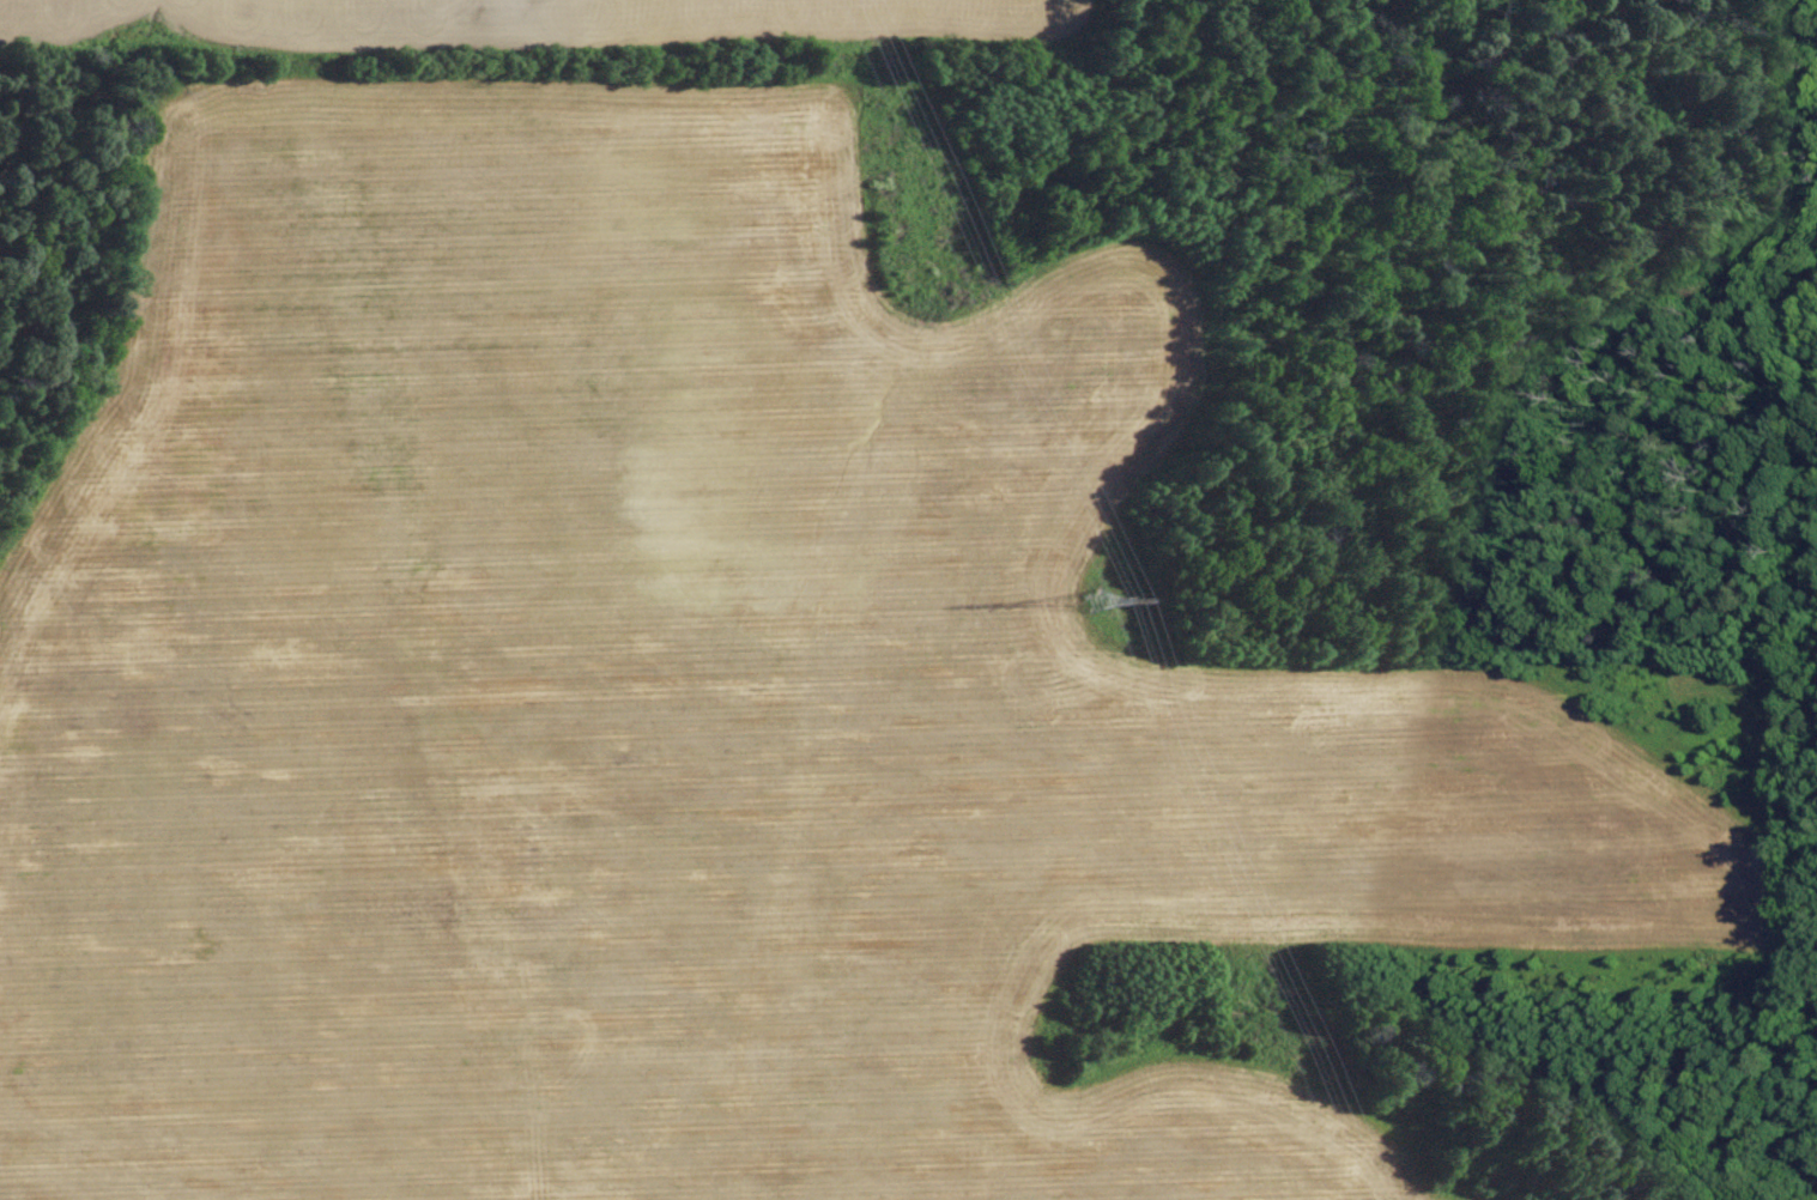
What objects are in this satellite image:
power tower: (1091, 600)

